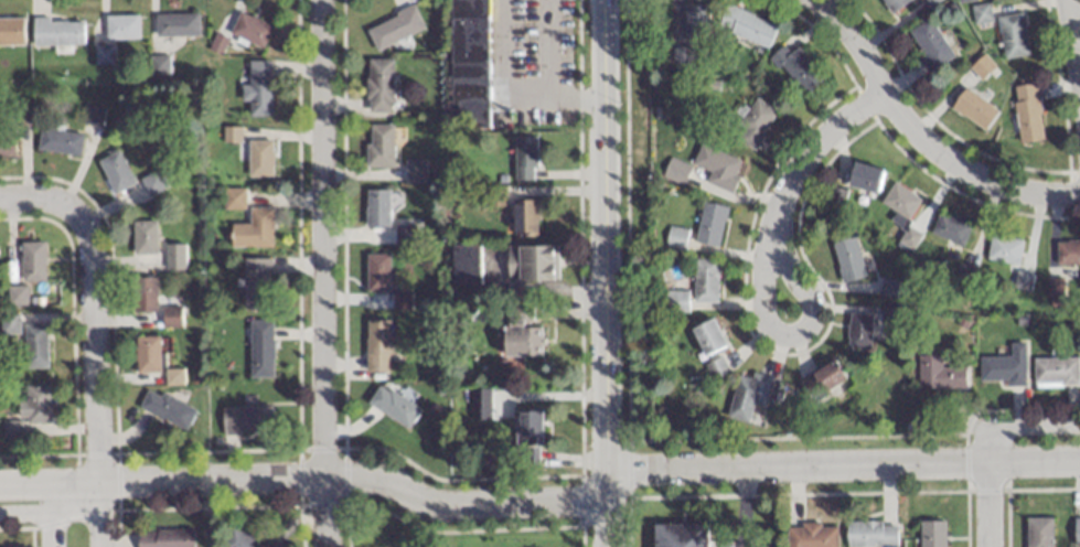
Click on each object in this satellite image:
building: (894, 4)
building: (980, 14)
building: (696, 20)
building: (175, 24)
building: (747, 25)
building: (120, 26)
building: (394, 26)
building: (11, 30)
building: (249, 30)
building: (56, 32)
building: (1012, 36)
building: (929, 45)
road: (1072, 51)
building: (103, 54)
building: (157, 65)
building: (796, 66)
building: (378, 84)
building: (257, 88)
road: (527, 93)
road: (578, 97)
building: (973, 110)
building: (1026, 114)
building: (93, 115)
building: (755, 121)
building: (229, 135)
road: (920, 136)
road: (815, 139)
building: (7, 140)
building: (58, 141)
building: (378, 144)
building: (524, 157)
building: (258, 158)
building: (717, 167)
building: (414, 169)
building: (115, 171)
building: (864, 176)
building: (152, 182)
building: (232, 199)
building: (899, 203)
building: (375, 205)
building: (525, 216)
building: (709, 223)
building: (913, 228)
building: (253, 229)
building: (949, 229)
building: (145, 236)
road: (603, 236)
building: (675, 237)
building: (1003, 248)
building: (1067, 253)
building: (174, 256)
building: (847, 258)
building: (32, 260)
building: (532, 261)
building: (376, 270)
road: (324, 272)
building: (705, 279)
building: (1022, 281)
building: (256, 283)
building: (1054, 288)
building: (143, 293)
building: (15, 296)
building: (675, 300)
road: (95, 305)
building: (172, 317)
building: (8, 323)
building: (520, 330)
building: (858, 330)
road: (789, 335)
building: (707, 336)
building: (376, 345)
building: (34, 346)
building: (259, 348)
building: (147, 354)
building: (1003, 366)
building: (716, 367)
building: (1055, 371)
building: (938, 374)
building: (173, 376)
building: (822, 380)
building: (746, 398)
building: (483, 403)
building: (33, 405)
building: (393, 406)
building: (165, 409)
building: (245, 419)
road: (1015, 425)
building: (527, 436)
street lamp: (588, 450)
road: (844, 465)
road: (307, 478)
road: (990, 504)
road: (607, 510)
road: (53, 512)
road: (99, 515)
road: (51, 516)
building: (1038, 532)
building: (1077, 532)
building: (870, 534)
building: (931, 534)
building: (680, 535)
building: (811, 535)
building: (164, 538)
building: (239, 539)

